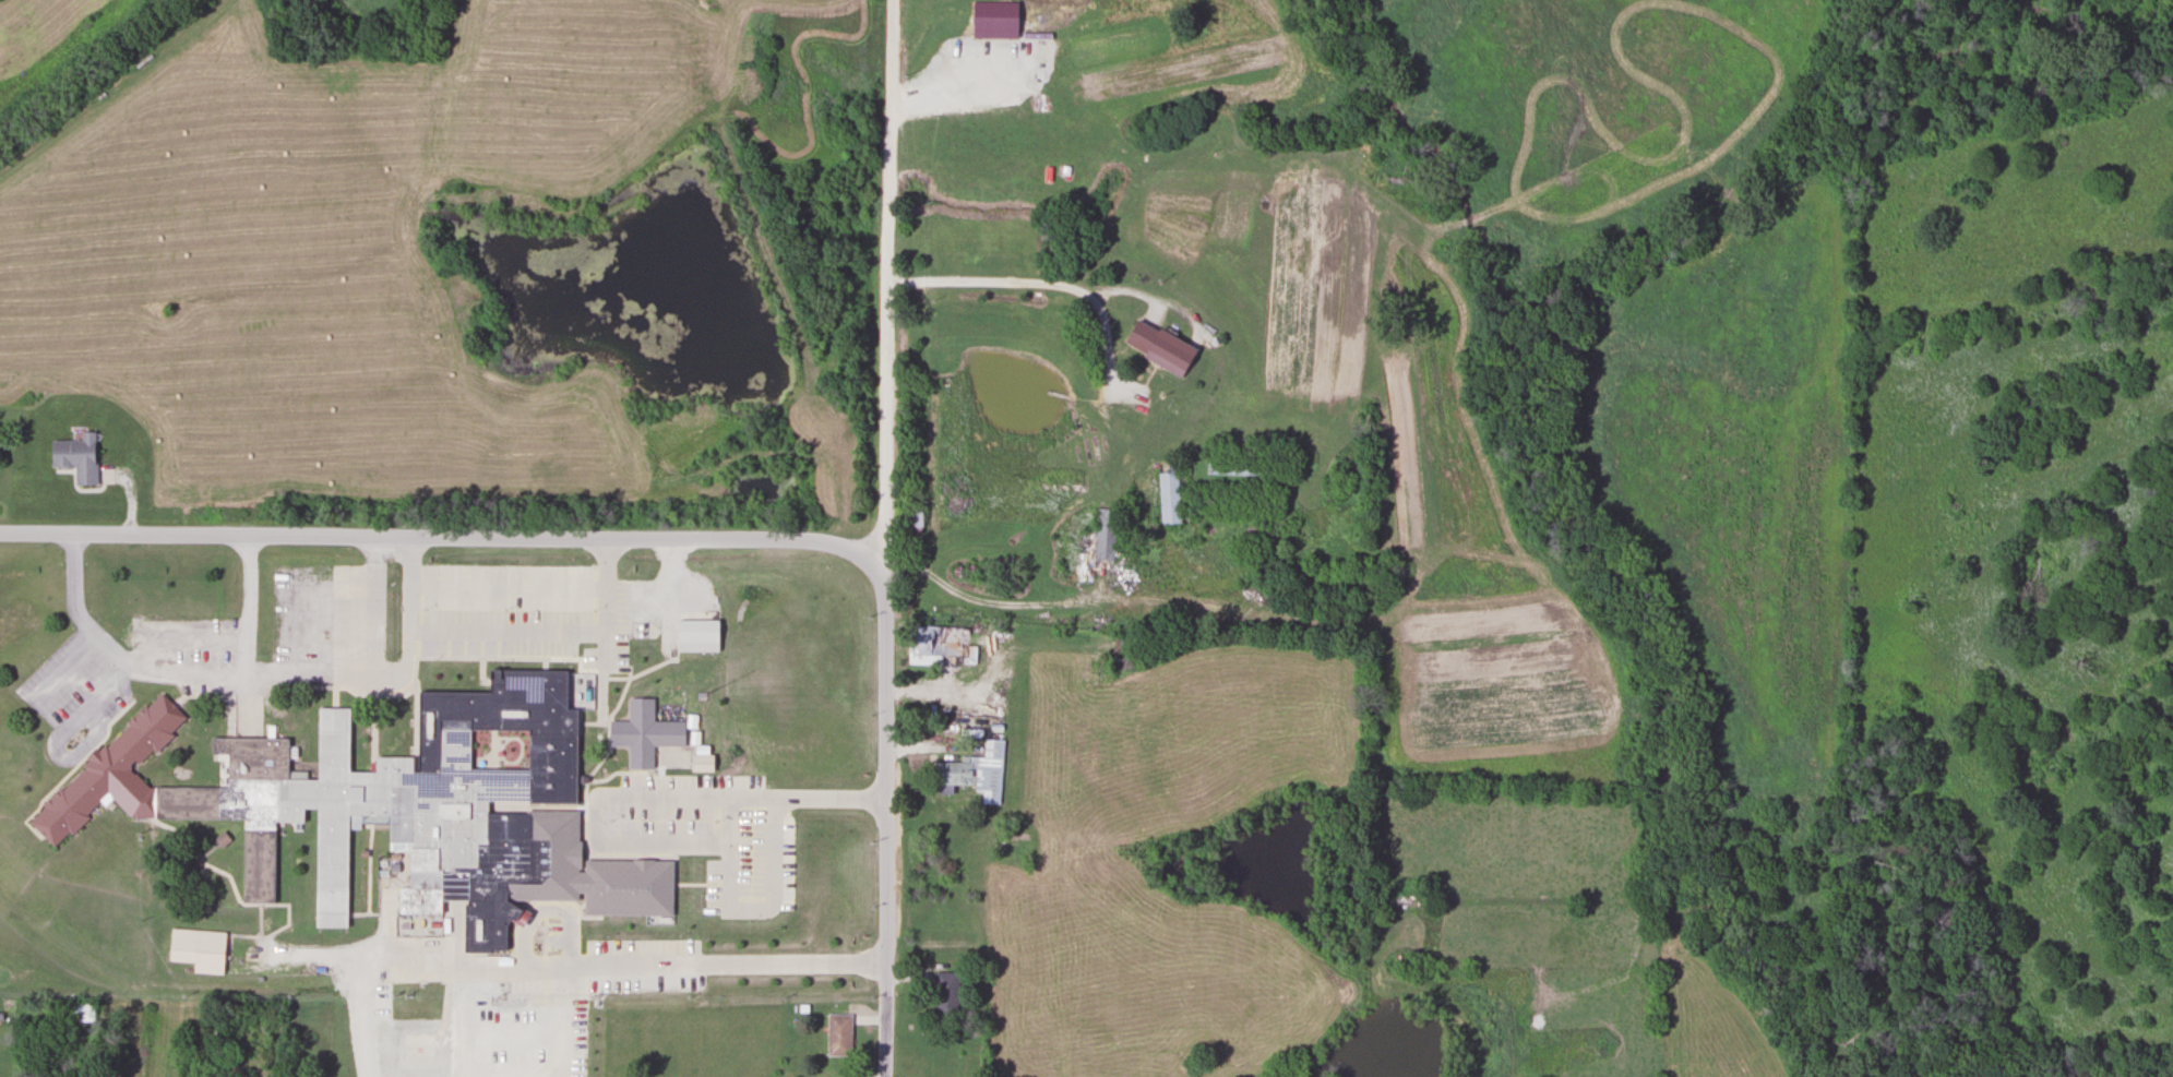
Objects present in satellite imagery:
road: (1027, 283)
road: (887, 290)
building: (1157, 346)
building: (74, 456)
building: (1231, 467)
building: (1167, 494)
building: (1103, 534)
road: (449, 538)
road: (372, 605)
road: (249, 632)
building: (695, 635)
building: (936, 641)
road: (192, 671)
building: (642, 733)
building: (975, 771)
building: (224, 794)
building: (419, 804)
road: (731, 805)
road: (875, 828)
building: (1011, 848)
road: (765, 853)
road: (717, 859)
building: (196, 949)
road: (711, 968)
building: (944, 992)
building: (76, 1012)
building: (837, 1034)
helipad: (419, 1048)

